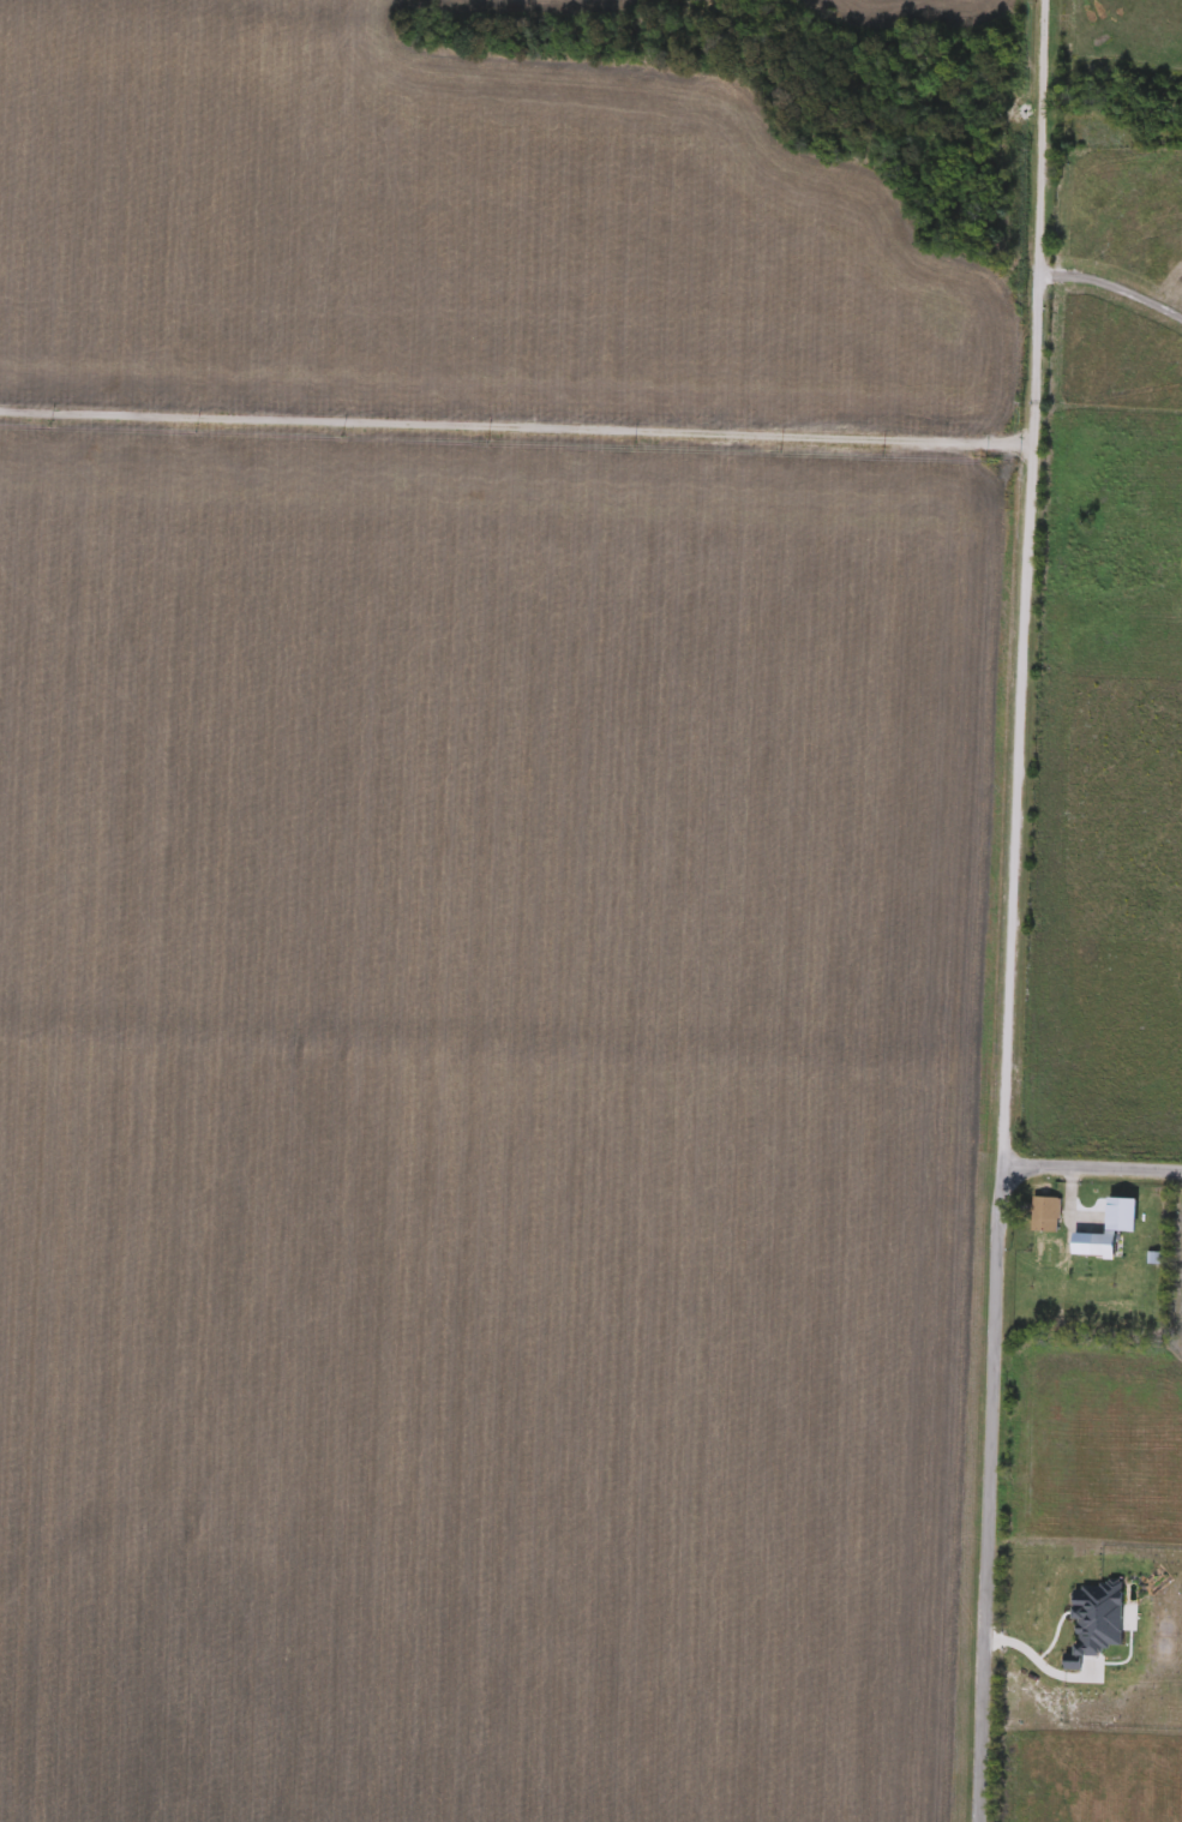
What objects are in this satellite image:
road: (1106, 272)
road: (510, 427)
road: (1006, 911)
road: (1090, 1164)
building: (1046, 1216)
building: (1094, 1246)
road: (1034, 1670)

